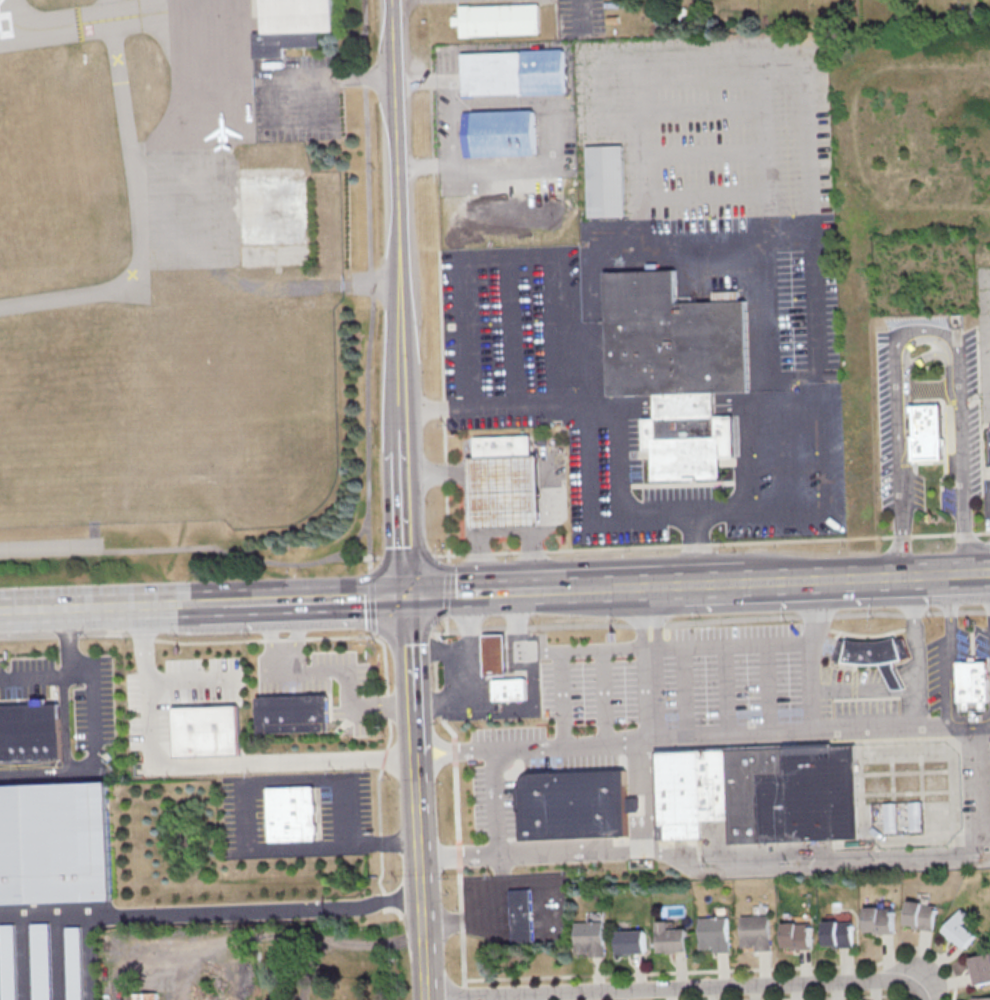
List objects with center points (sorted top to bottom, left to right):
airport taxiway: (152, 12)
building: (497, 19)
airport taxiway: (69, 23)
building: (292, 25)
building: (517, 72)
road: (260, 84)
road: (453, 121)
building: (504, 133)
airport apron: (216, 151)
road: (635, 163)
building: (604, 181)
road: (808, 197)
road: (136, 206)
road: (699, 239)
road: (490, 251)
airport: (162, 271)
road: (370, 278)
road: (811, 300)
road: (926, 330)
road: (592, 355)
building: (680, 370)
road: (610, 426)
building: (989, 432)
building: (925, 435)
building: (500, 446)
road: (436, 475)
road: (445, 489)
building: (501, 490)
road: (478, 495)
road: (407, 500)
road: (808, 510)
road: (934, 533)
road: (528, 535)
road: (638, 546)
road: (112, 550)
road: (50, 551)
road: (352, 556)
road: (406, 556)
road: (254, 558)
road: (369, 558)
road: (480, 560)
road: (979, 574)
road: (831, 579)
road: (666, 586)
road: (446, 589)
road: (585, 590)
road: (469, 594)
traffic signals: (408, 597)
road: (335, 598)
road: (371, 600)
road: (229, 601)
road: (97, 606)
road: (815, 612)
road: (655, 618)
road: (639, 619)
road: (718, 620)
road: (515, 623)
road: (468, 627)
road: (445, 631)
road: (78, 632)
road: (913, 632)
road: (404, 634)
road: (296, 635)
road: (270, 636)
road: (374, 637)
road: (68, 638)
road: (264, 639)
road: (772, 644)
road: (493, 646)
road: (440, 649)
building: (493, 651)
road: (560, 653)
road: (949, 653)
building: (871, 655)
road: (188, 678)
road: (349, 679)
road: (895, 683)
building: (972, 684)
building: (508, 687)
road: (767, 688)
road: (850, 688)
road: (727, 689)
road: (685, 690)
road: (650, 691)
road: (604, 694)
road: (467, 699)
road: (914, 700)
building: (308, 713)
building: (272, 714)
road: (952, 715)
road: (92, 716)
road: (64, 725)
road: (969, 727)
building: (206, 729)
building: (29, 732)
road: (968, 735)
building: (770, 760)
road: (199, 764)
road: (631, 765)
building: (712, 783)
building: (678, 793)
building: (811, 794)
building: (742, 795)
road: (633, 802)
building: (575, 803)
building: (290, 813)
road: (243, 815)
building: (902, 816)
road: (498, 839)
building: (54, 842)
road: (643, 847)
road: (586, 852)
road: (551, 883)
road: (371, 901)
road: (160, 911)
building: (920, 914)
building: (520, 915)
road: (521, 918)
road: (492, 919)
road: (505, 919)
building: (878, 919)
building: (959, 928)
building: (755, 931)
building: (796, 932)
building: (713, 933)
building: (837, 933)
building: (588, 936)
road: (294, 937)
building: (670, 937)
building: (630, 941)
road: (88, 956)
building: (40, 960)
building: (7, 963)
building: (73, 963)
road: (131, 967)
building: (980, 968)
road: (172, 979)
road: (677, 987)
building: (146, 996)
building: (981, 998)

